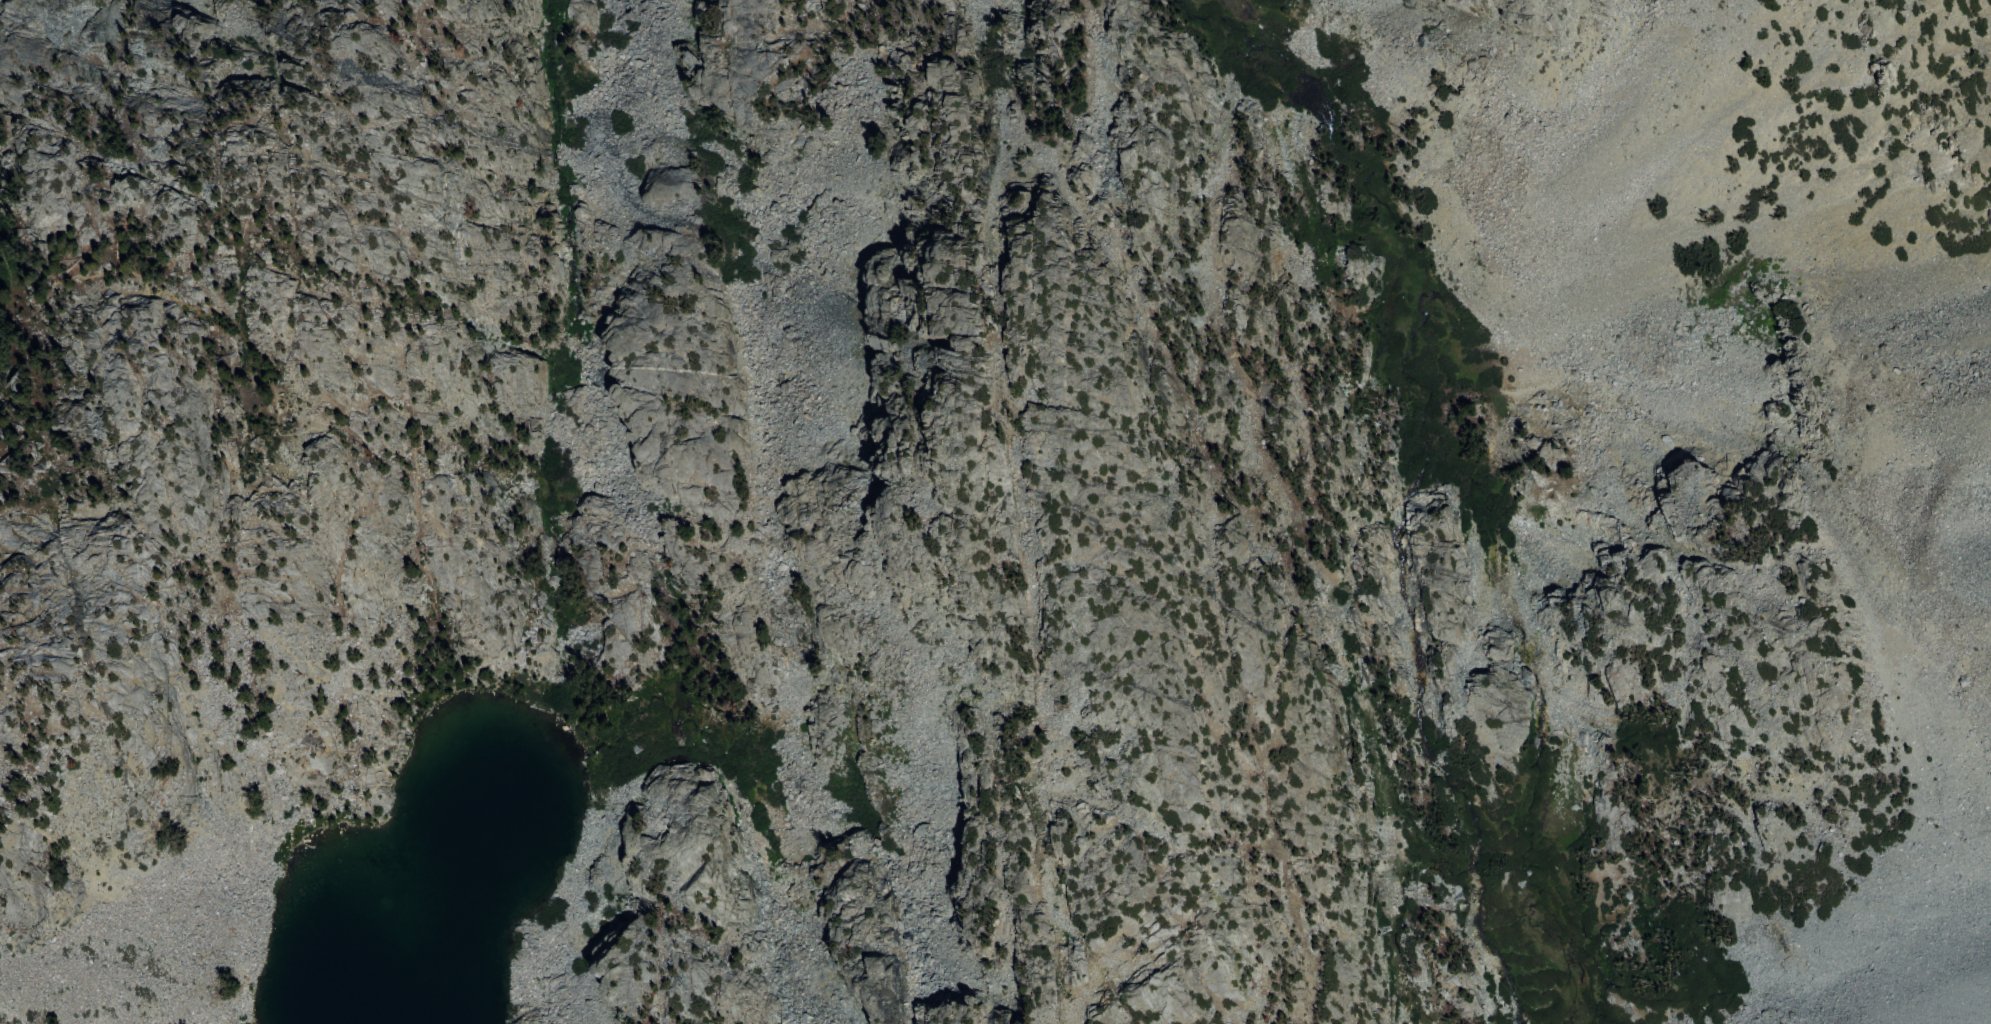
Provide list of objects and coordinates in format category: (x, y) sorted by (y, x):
road: (279, 421)

